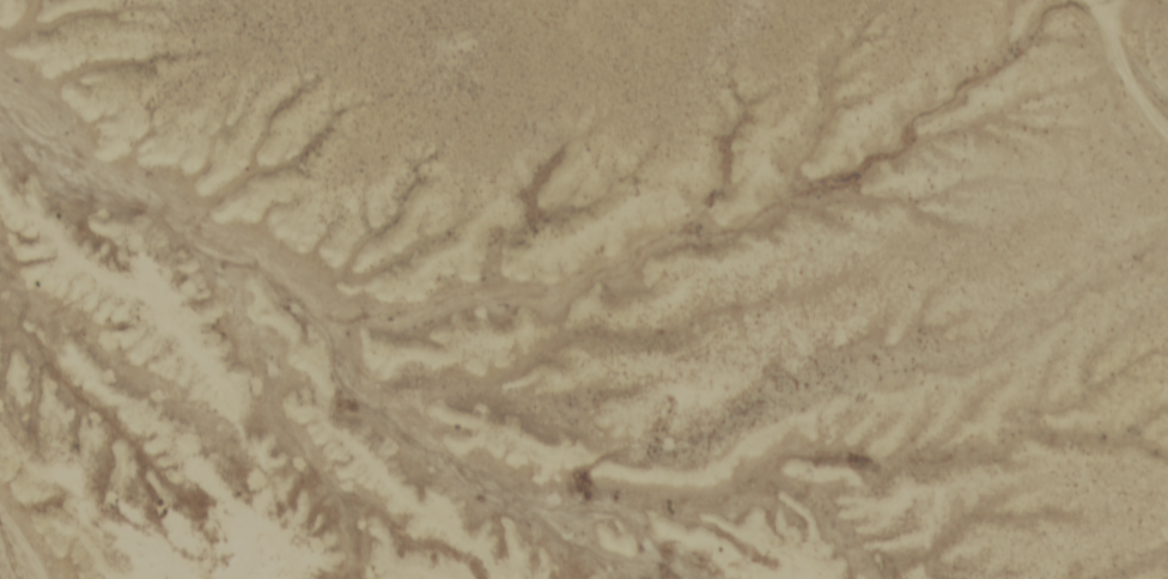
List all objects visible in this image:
road: (1139, 24)
road: (992, 323)

